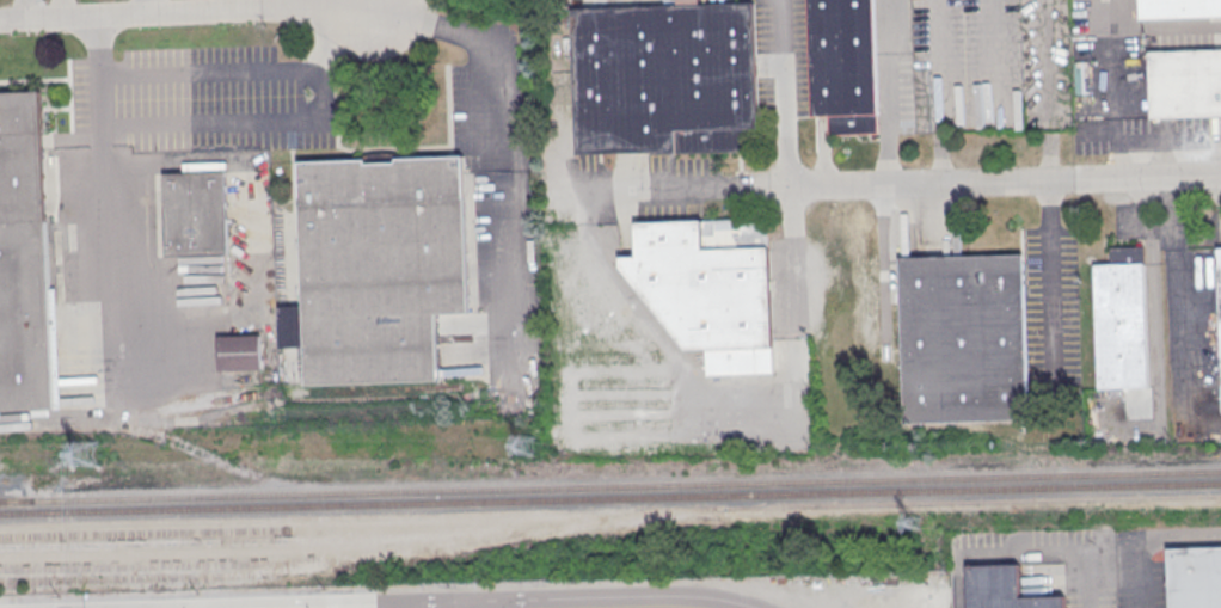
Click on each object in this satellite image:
road: (374, 2)
road: (146, 7)
building: (1178, 8)
road: (186, 12)
road: (340, 32)
building: (842, 65)
building: (662, 78)
building: (1185, 82)
road: (1047, 90)
road: (939, 91)
road: (890, 92)
road: (319, 93)
road: (785, 93)
road: (505, 156)
road: (982, 182)
road: (100, 183)
building: (195, 213)
building: (23, 258)
building: (379, 264)
road: (1049, 281)
building: (1220, 281)
road: (1176, 290)
building: (708, 293)
building: (1121, 319)
building: (963, 338)
building: (238, 351)
road: (669, 352)
power tower: (528, 444)
power tower: (87, 456)
railway: (627, 485)
railway: (610, 497)
railway: (17, 499)
railway: (17, 500)
railway: (610, 509)
power tower: (912, 520)
railway: (296, 528)
road: (1147, 538)
railway: (245, 541)
railway: (207, 553)
railway: (345, 558)
road: (1029, 560)
railway: (157, 565)
building: (1195, 577)
building: (1004, 589)
road: (461, 602)
road: (398, 606)
road: (459, 606)

